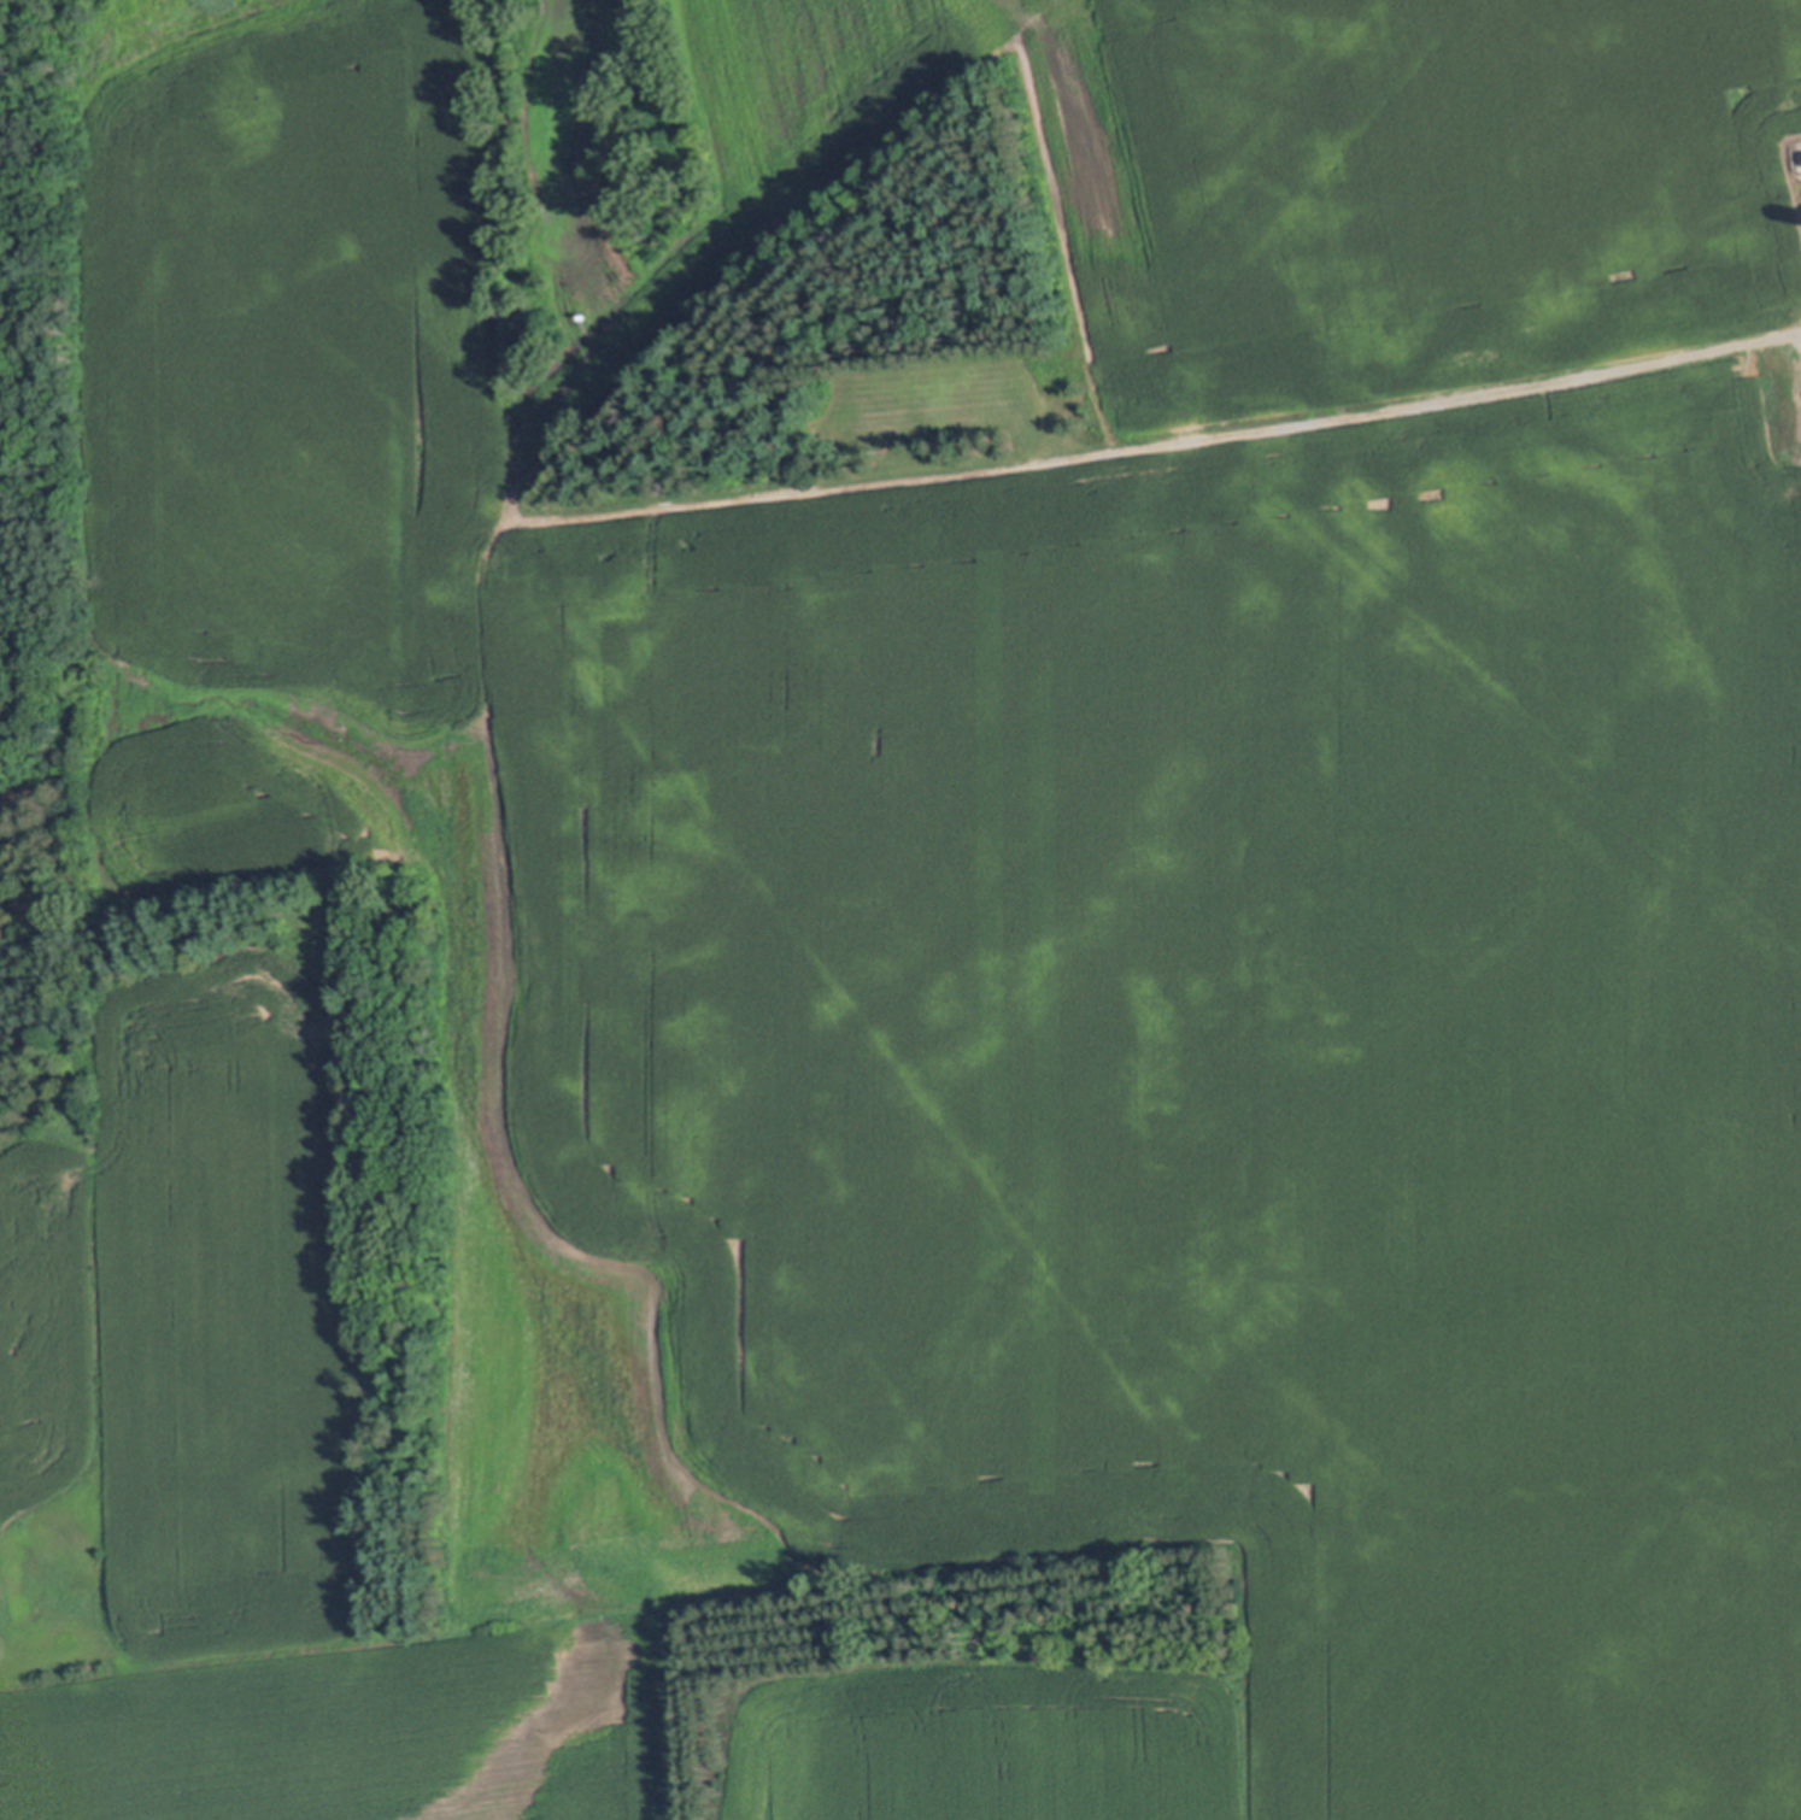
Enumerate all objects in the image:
building: (963, 428)
river: (5, 685)

